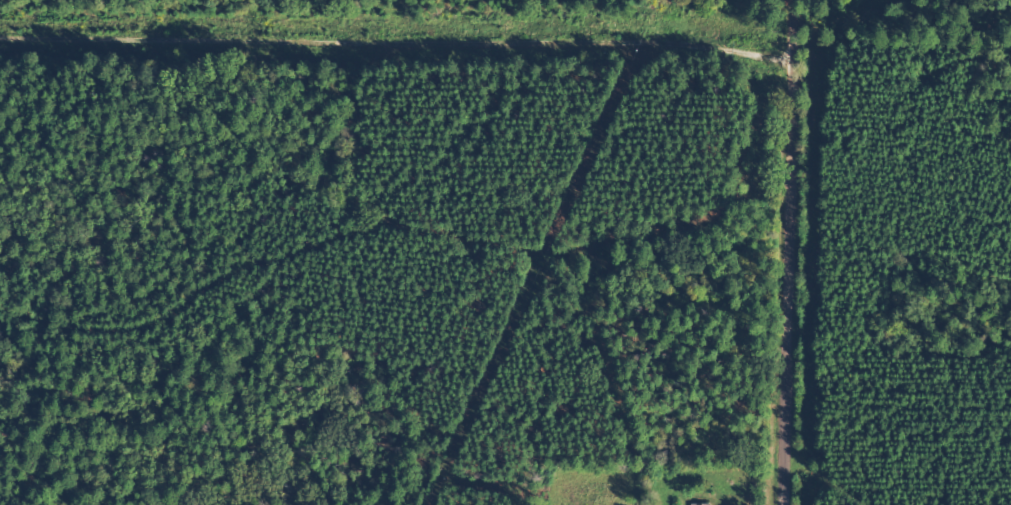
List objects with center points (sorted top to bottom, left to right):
road: (811, 252)
building: (705, 503)

